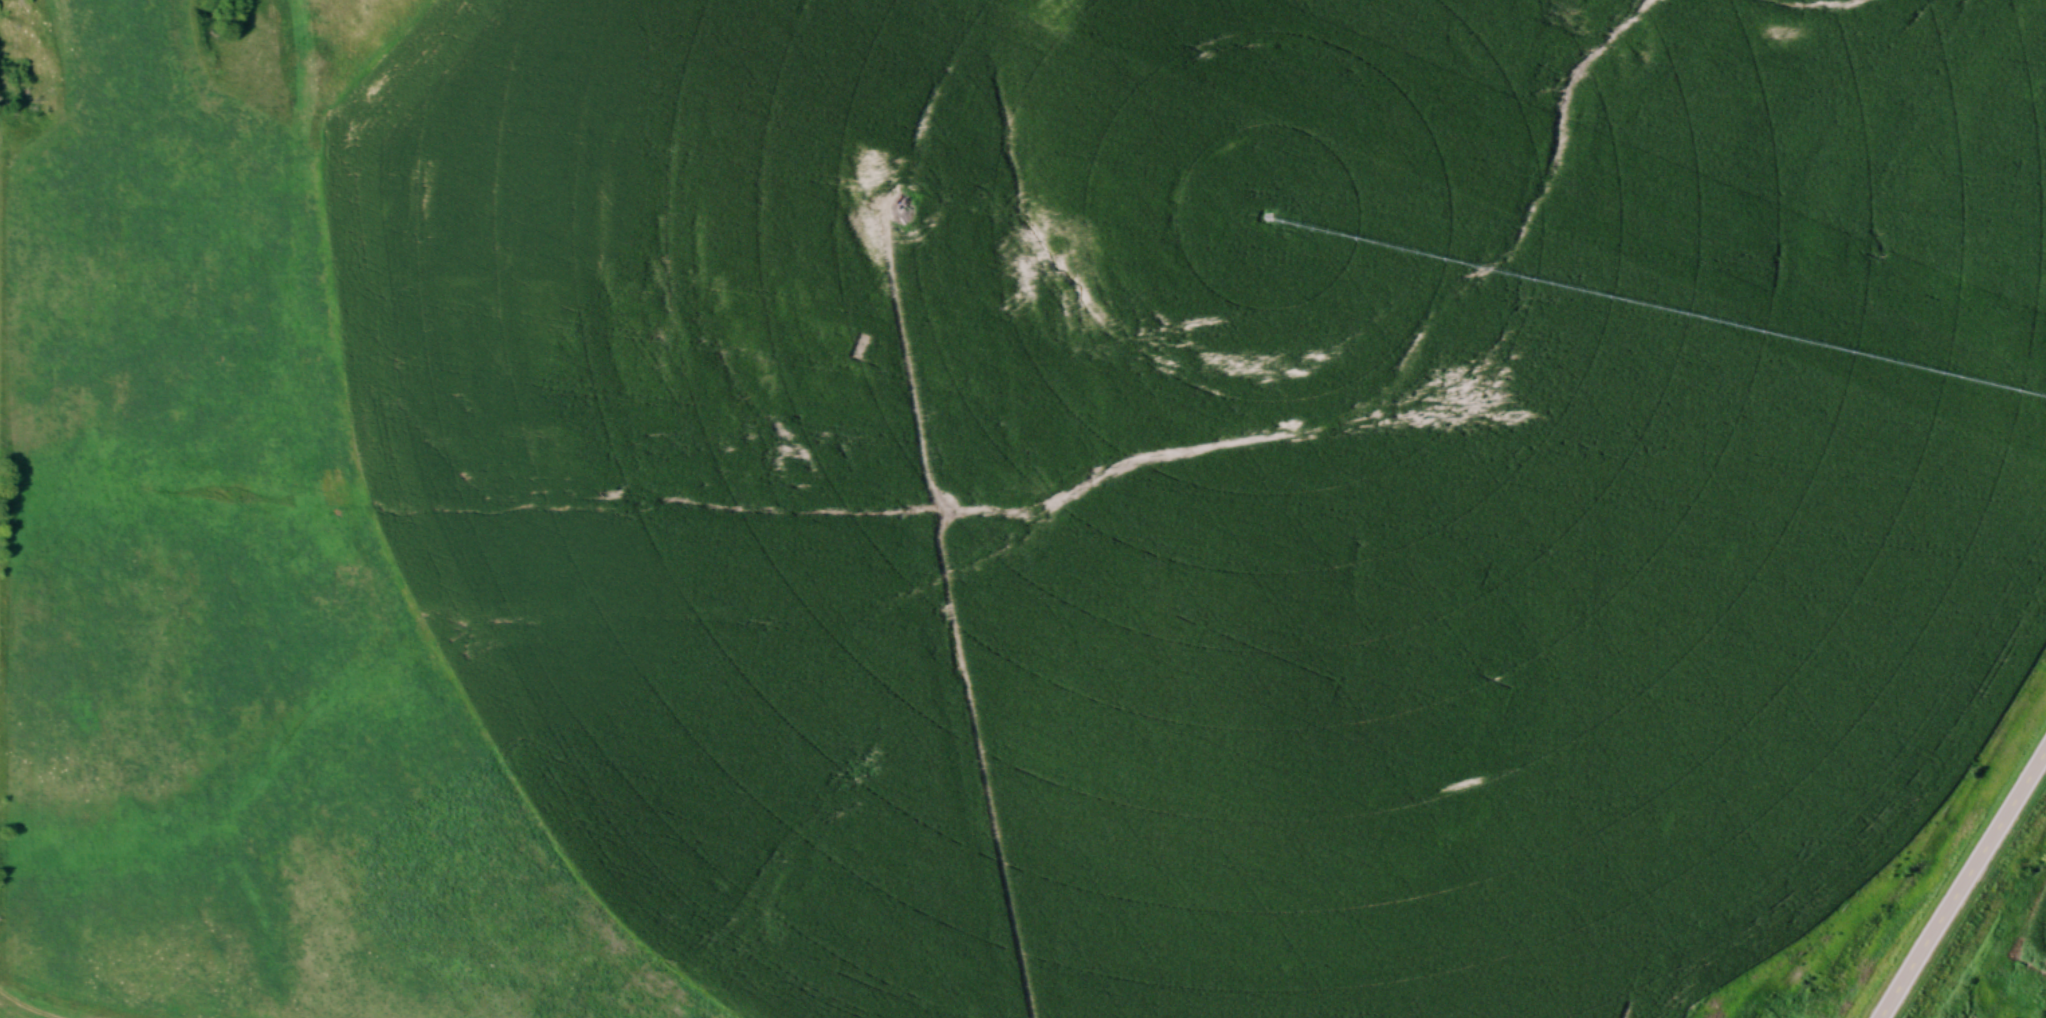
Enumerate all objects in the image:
road: (1965, 886)

